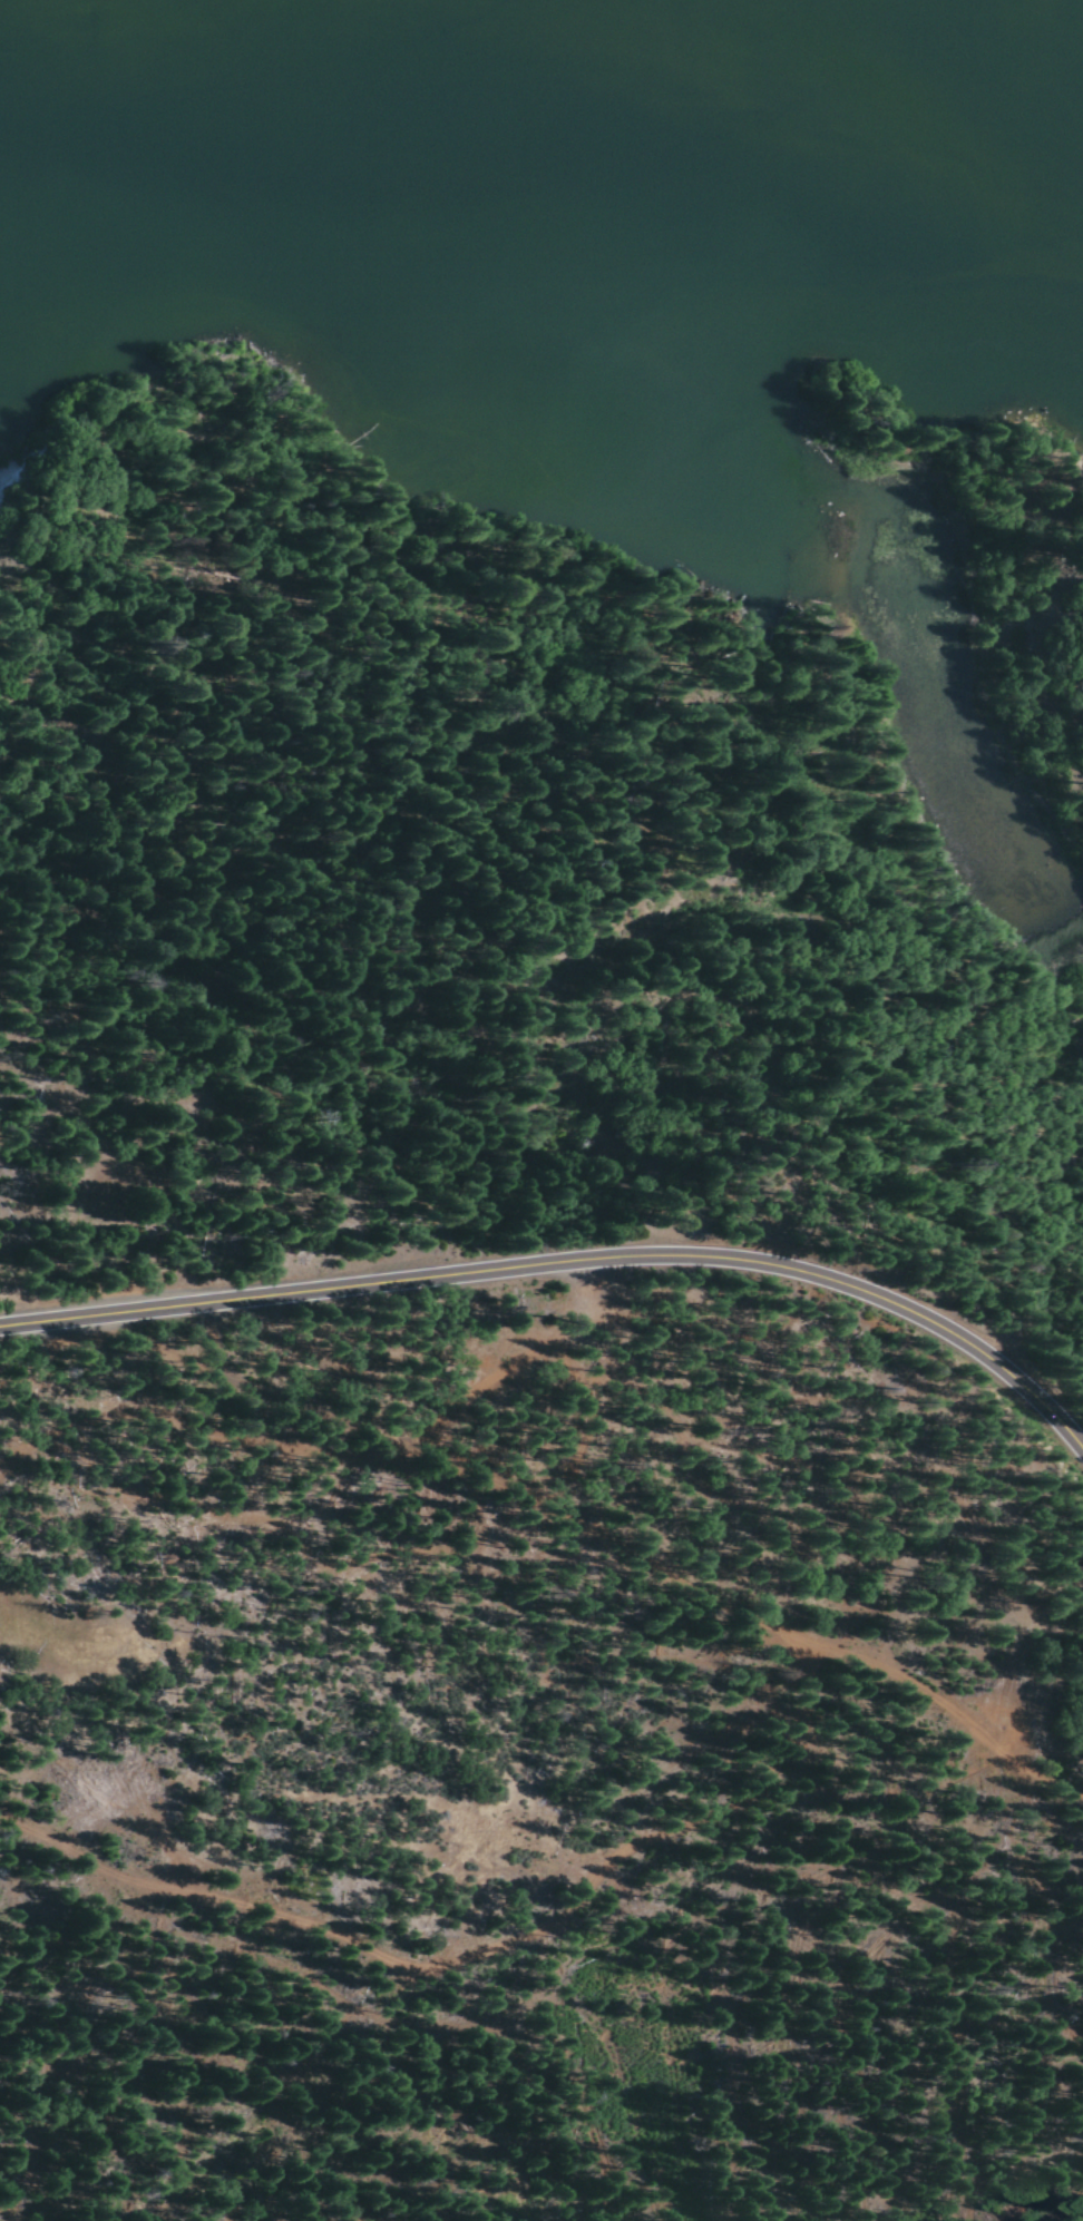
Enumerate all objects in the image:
river: (521, 144)
road: (609, 1263)
road: (38, 1303)
road: (38, 1321)
road: (592, 1532)

